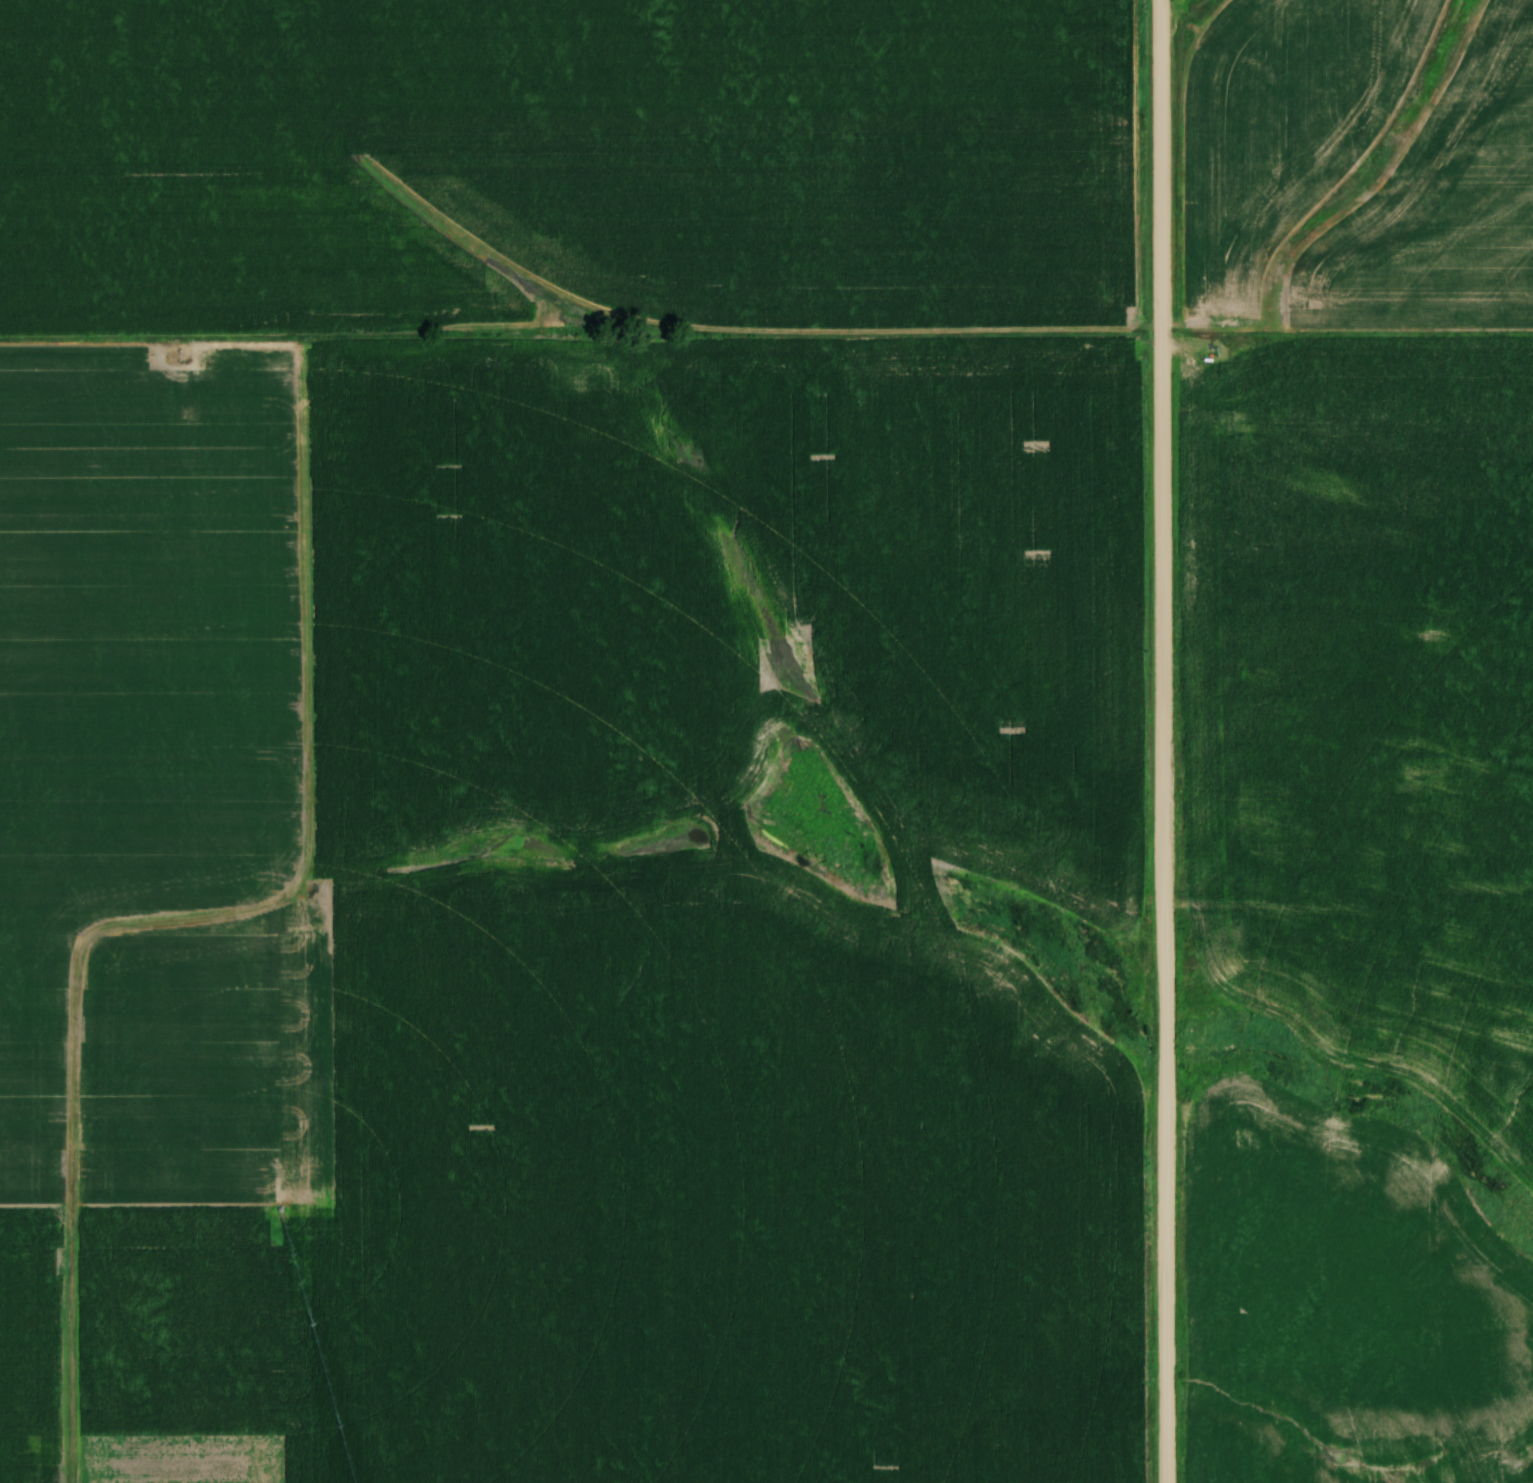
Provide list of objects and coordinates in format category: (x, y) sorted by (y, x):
road: (1165, 741)
road: (1351, 908)
building: (1458, 951)

